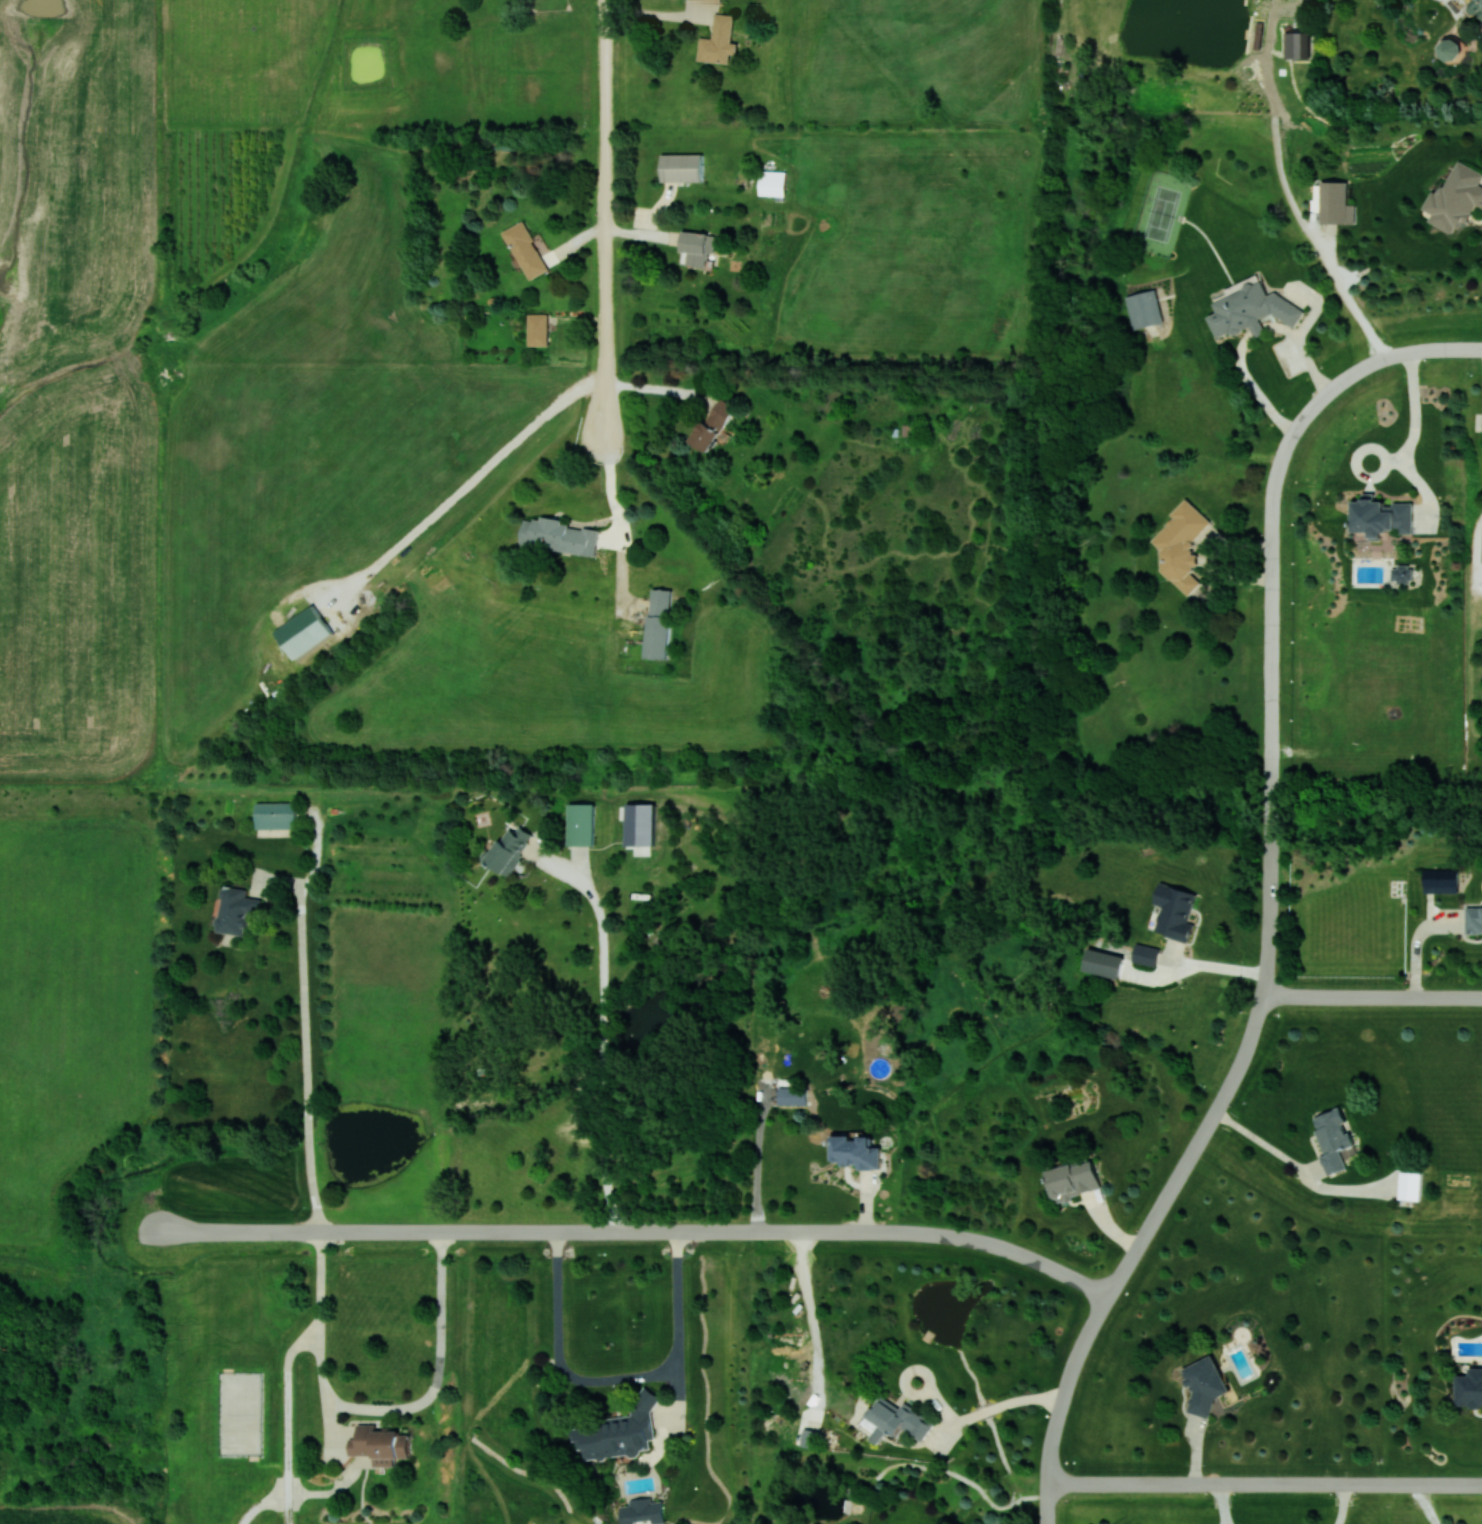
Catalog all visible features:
building: (707, 0)
building: (1474, 5)
road: (660, 16)
building: (718, 40)
building: (1297, 45)
building: (1451, 47)
building: (682, 167)
building: (772, 183)
building: (1457, 196)
building: (1336, 203)
road: (1294, 207)
road: (605, 218)
road: (652, 227)
building: (526, 250)
building: (1144, 308)
building: (538, 329)
road: (1260, 330)
road: (1459, 349)
road: (1304, 350)
road: (1254, 387)
road: (1416, 415)
building: (714, 425)
road: (1358, 458)
road: (474, 480)
road: (1420, 485)
road: (612, 490)
building: (1381, 516)
building: (559, 535)
building: (1183, 545)
building: (1481, 559)
building: (1402, 574)
building: (659, 623)
road: (1272, 627)
building: (305, 632)
building: (275, 815)
building: (581, 824)
building: (641, 824)
building: (510, 849)
building: (1441, 880)
building: (236, 911)
building: (1175, 911)
building: (1474, 920)
road: (1416, 943)
building: (1146, 954)
building: (1104, 962)
road: (1198, 966)
road: (1373, 997)
road: (603, 1035)
road: (305, 1040)
building: (792, 1095)
building: (1332, 1139)
building: (856, 1151)
road: (1298, 1165)
building: (1074, 1179)
building: (1409, 1185)
road: (639, 1231)
road: (1134, 1253)
road: (810, 1313)
road: (618, 1380)
building: (1205, 1385)
building: (1469, 1388)
road: (378, 1408)
road: (997, 1409)
building: (895, 1420)
building: (620, 1431)
building: (807, 1437)
building: (381, 1444)
road: (1266, 1484)
road: (1220, 1504)
road: (1343, 1504)
road: (1427, 1504)
building: (642, 1511)

